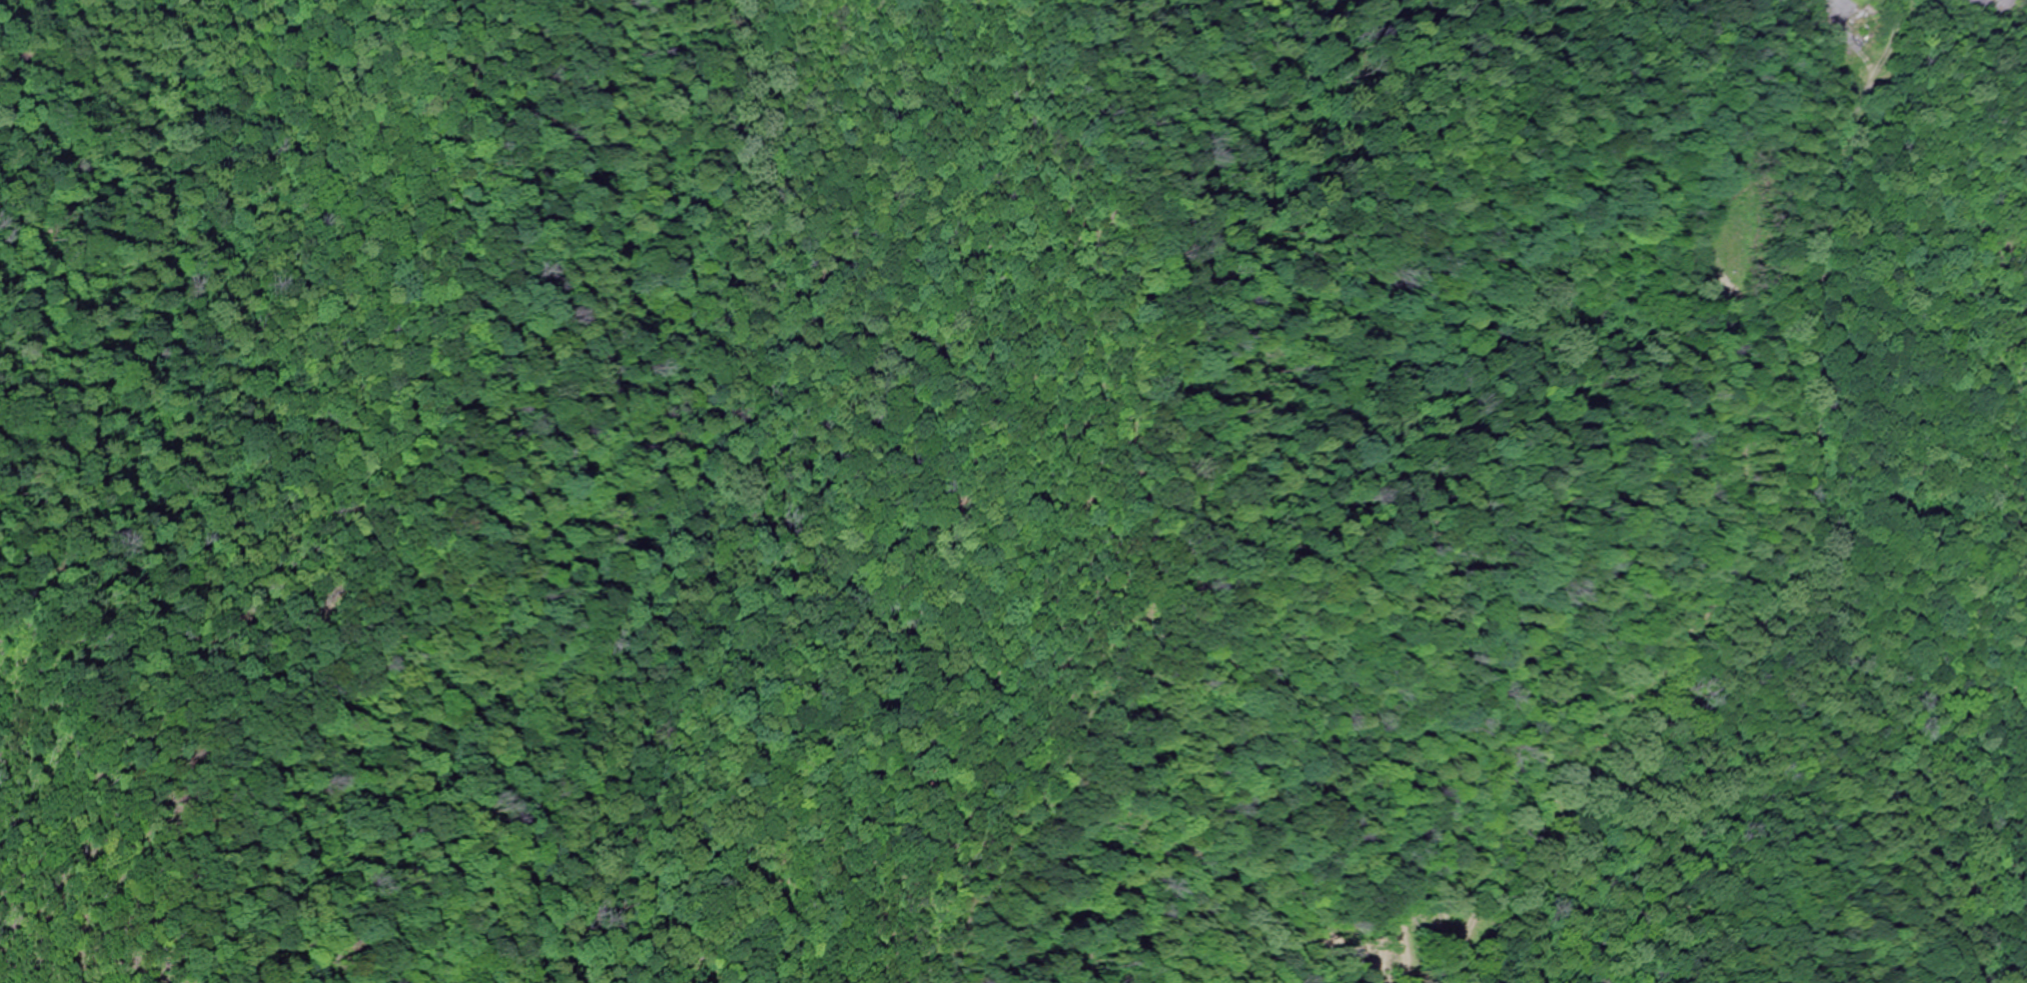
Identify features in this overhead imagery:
building: (1974, 3)
building: (1858, 21)

